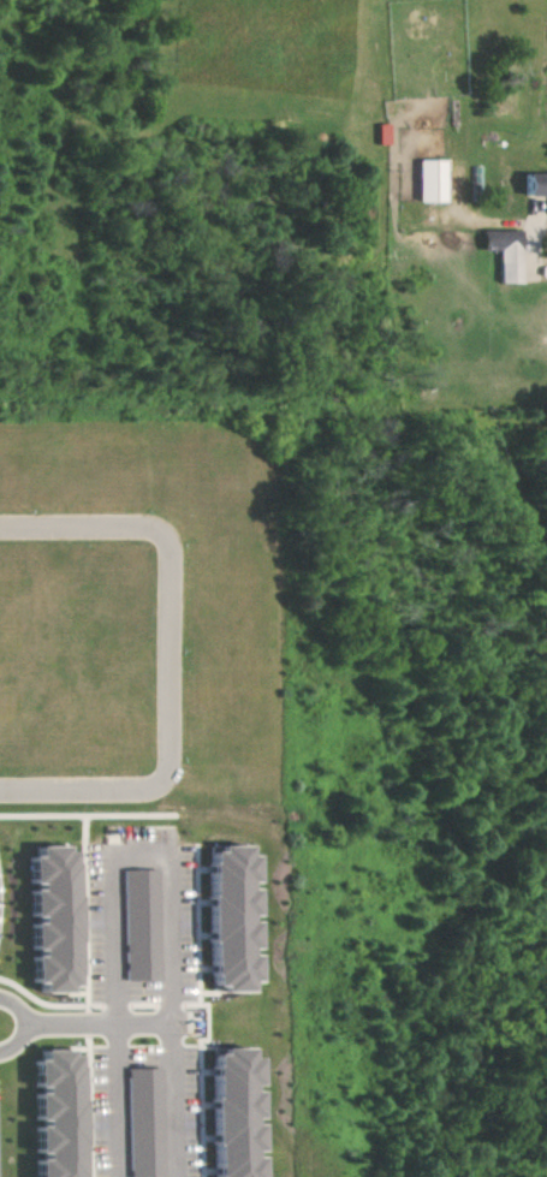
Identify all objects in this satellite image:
building: (428, 180)
building: (533, 184)
building: (503, 251)
road: (170, 658)
building: (227, 919)
building: (47, 920)
building: (130, 928)
building: (228, 1114)
building: (49, 1116)
building: (132, 1127)

